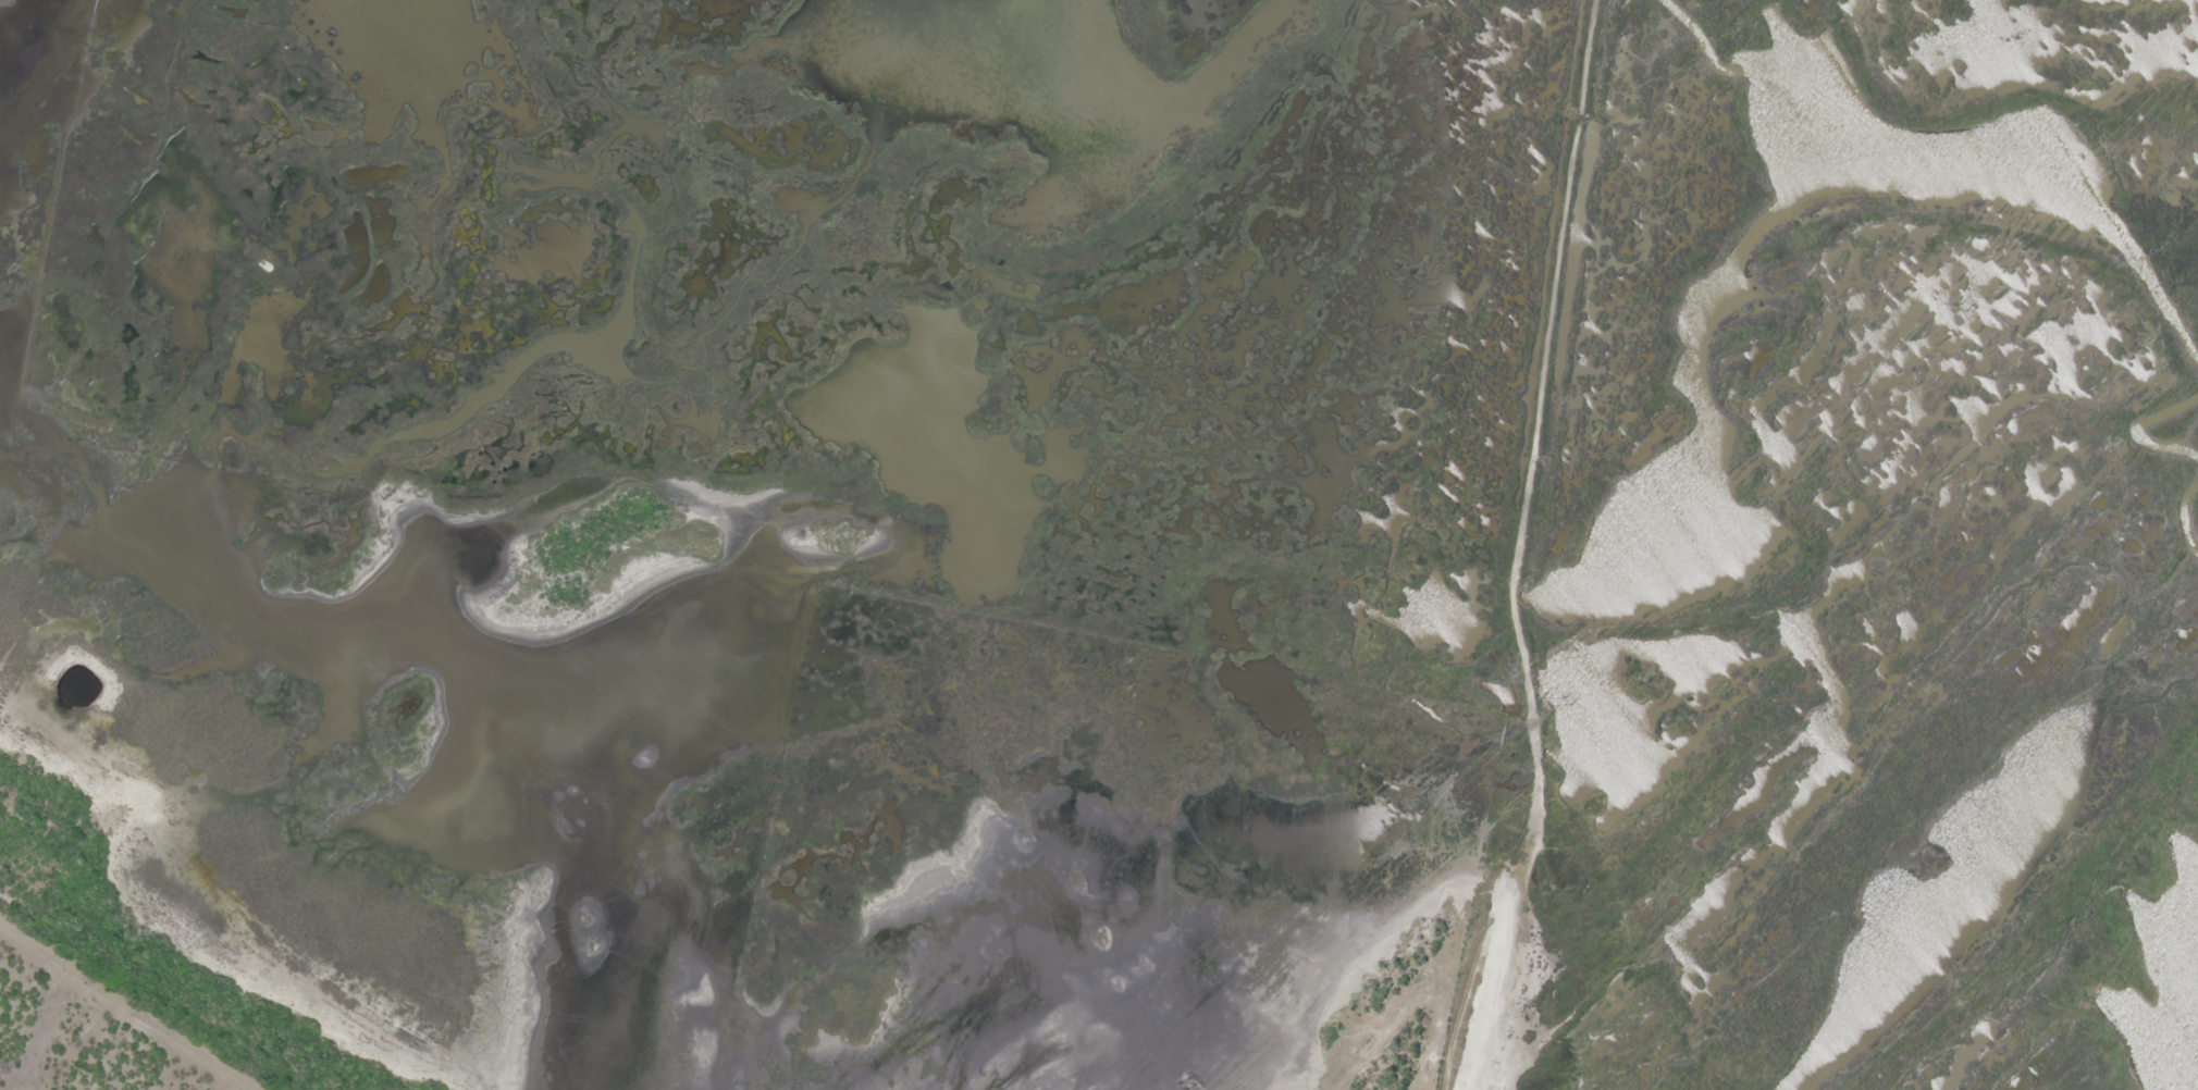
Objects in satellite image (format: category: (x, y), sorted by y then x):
power tower: (1963, 307)
power tower: (1567, 699)
road: (1517, 931)
power tower: (1181, 1086)

